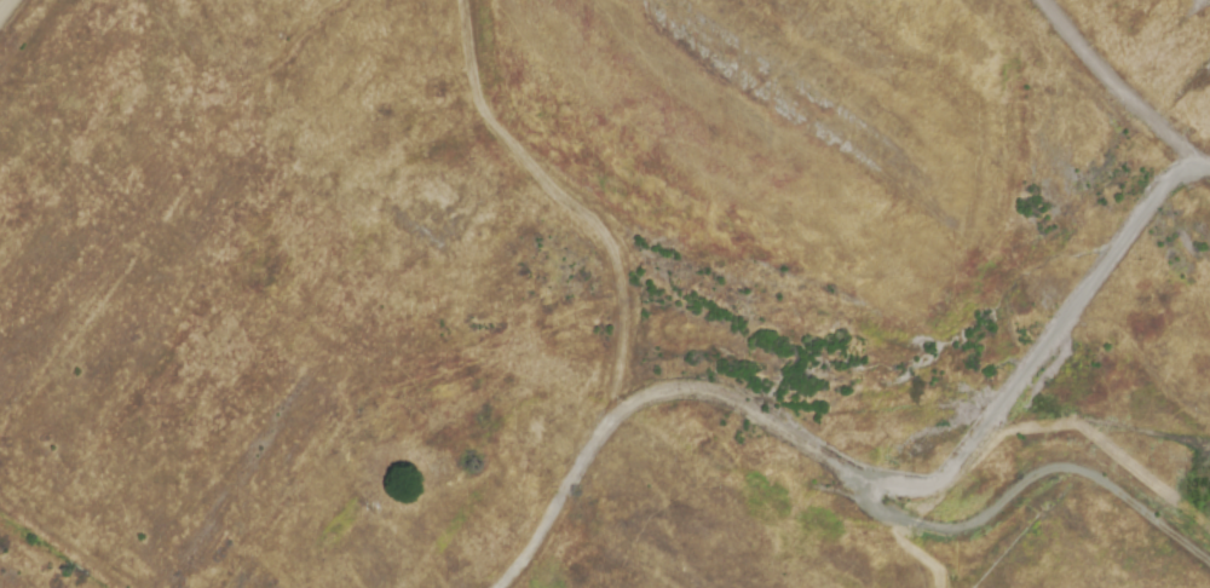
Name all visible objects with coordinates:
road: (1, 1)
road: (1117, 86)
road: (1039, 473)
road: (869, 482)
road: (914, 554)

